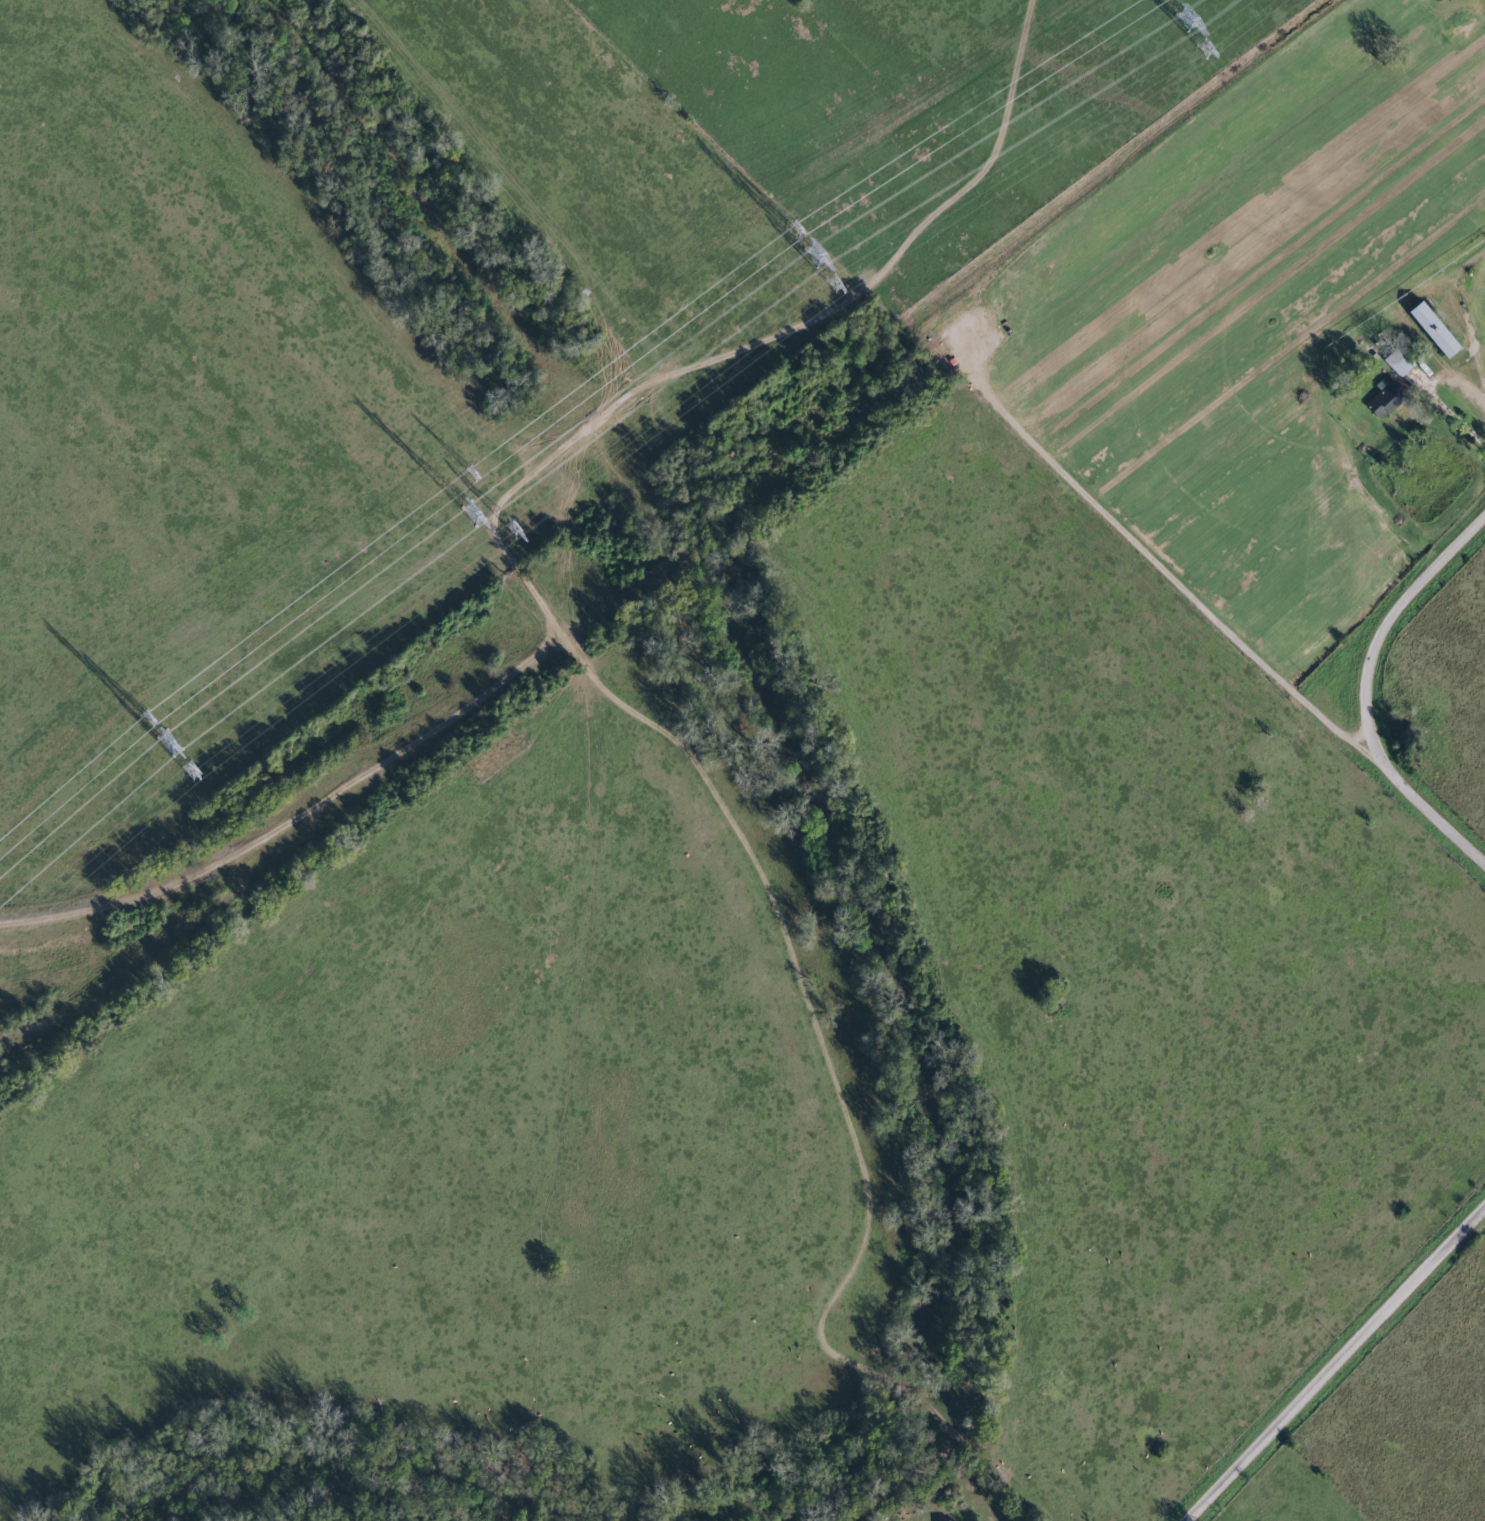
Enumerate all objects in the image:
power tower: (1185, 20)
power tower: (1203, 49)
power tower: (793, 229)
power tower: (814, 256)
power tower: (833, 284)
building: (1427, 329)
road: (969, 368)
road: (1337, 380)
building: (1379, 399)
power tower: (470, 474)
power tower: (472, 514)
power tower: (512, 530)
railway: (684, 533)
road: (1344, 689)
power tower: (145, 719)
power tower: (167, 744)
power tower: (189, 771)
railway: (206, 872)
road: (1334, 1364)
building: (949, 1520)

